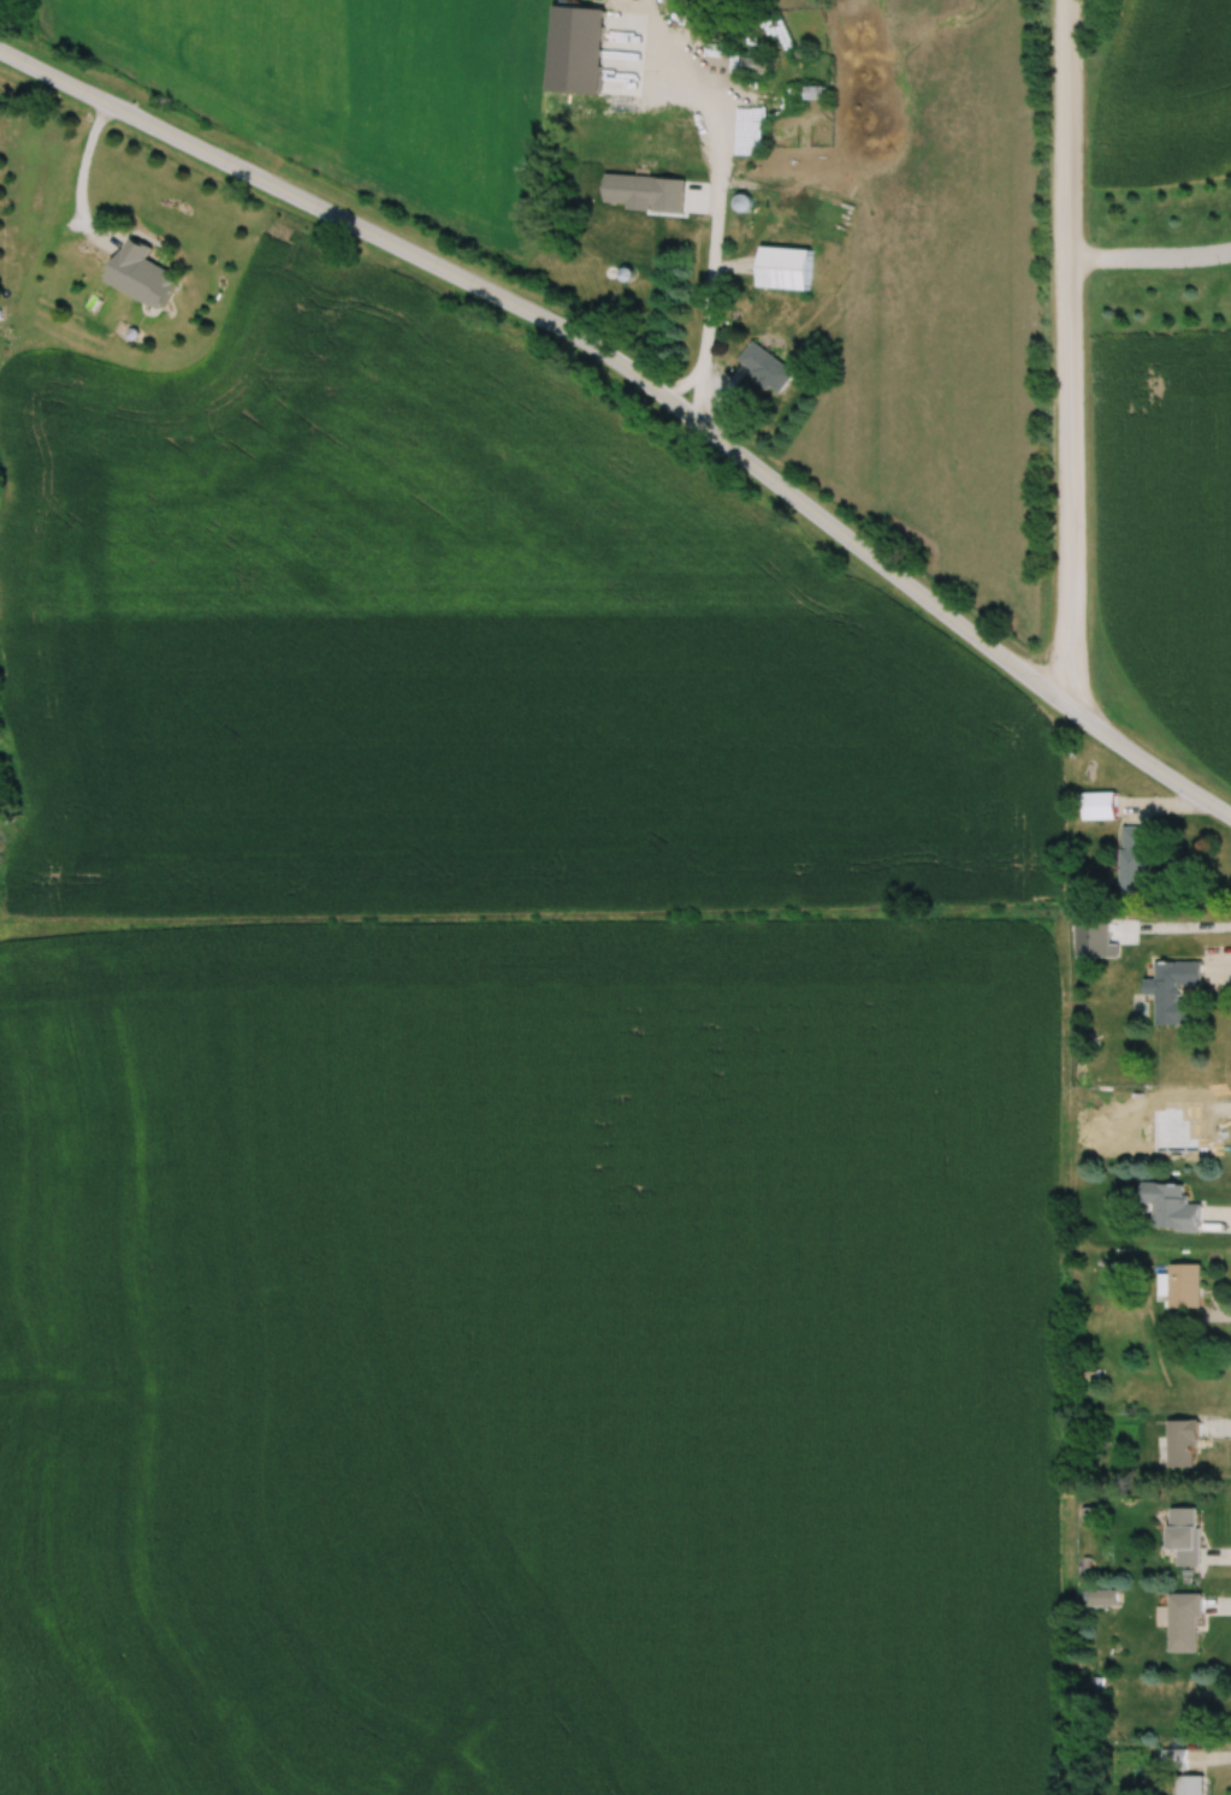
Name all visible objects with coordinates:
building: (655, 58)
building: (753, 64)
crop: (1159, 95)
building: (753, 132)
building: (651, 162)
road: (78, 176)
building: (741, 202)
road: (715, 227)
road: (1149, 256)
building: (783, 267)
building: (140, 273)
road: (1069, 357)
building: (764, 366)
road: (649, 383)
crop: (1166, 526)
building: (1096, 805)
building: (1132, 859)
building: (1172, 991)
building: (1184, 1126)
building: (1180, 1285)
building: (1180, 1442)
building: (1182, 1535)
building: (1101, 1596)
building: (1183, 1622)
building: (1171, 1758)
building: (1189, 1784)

